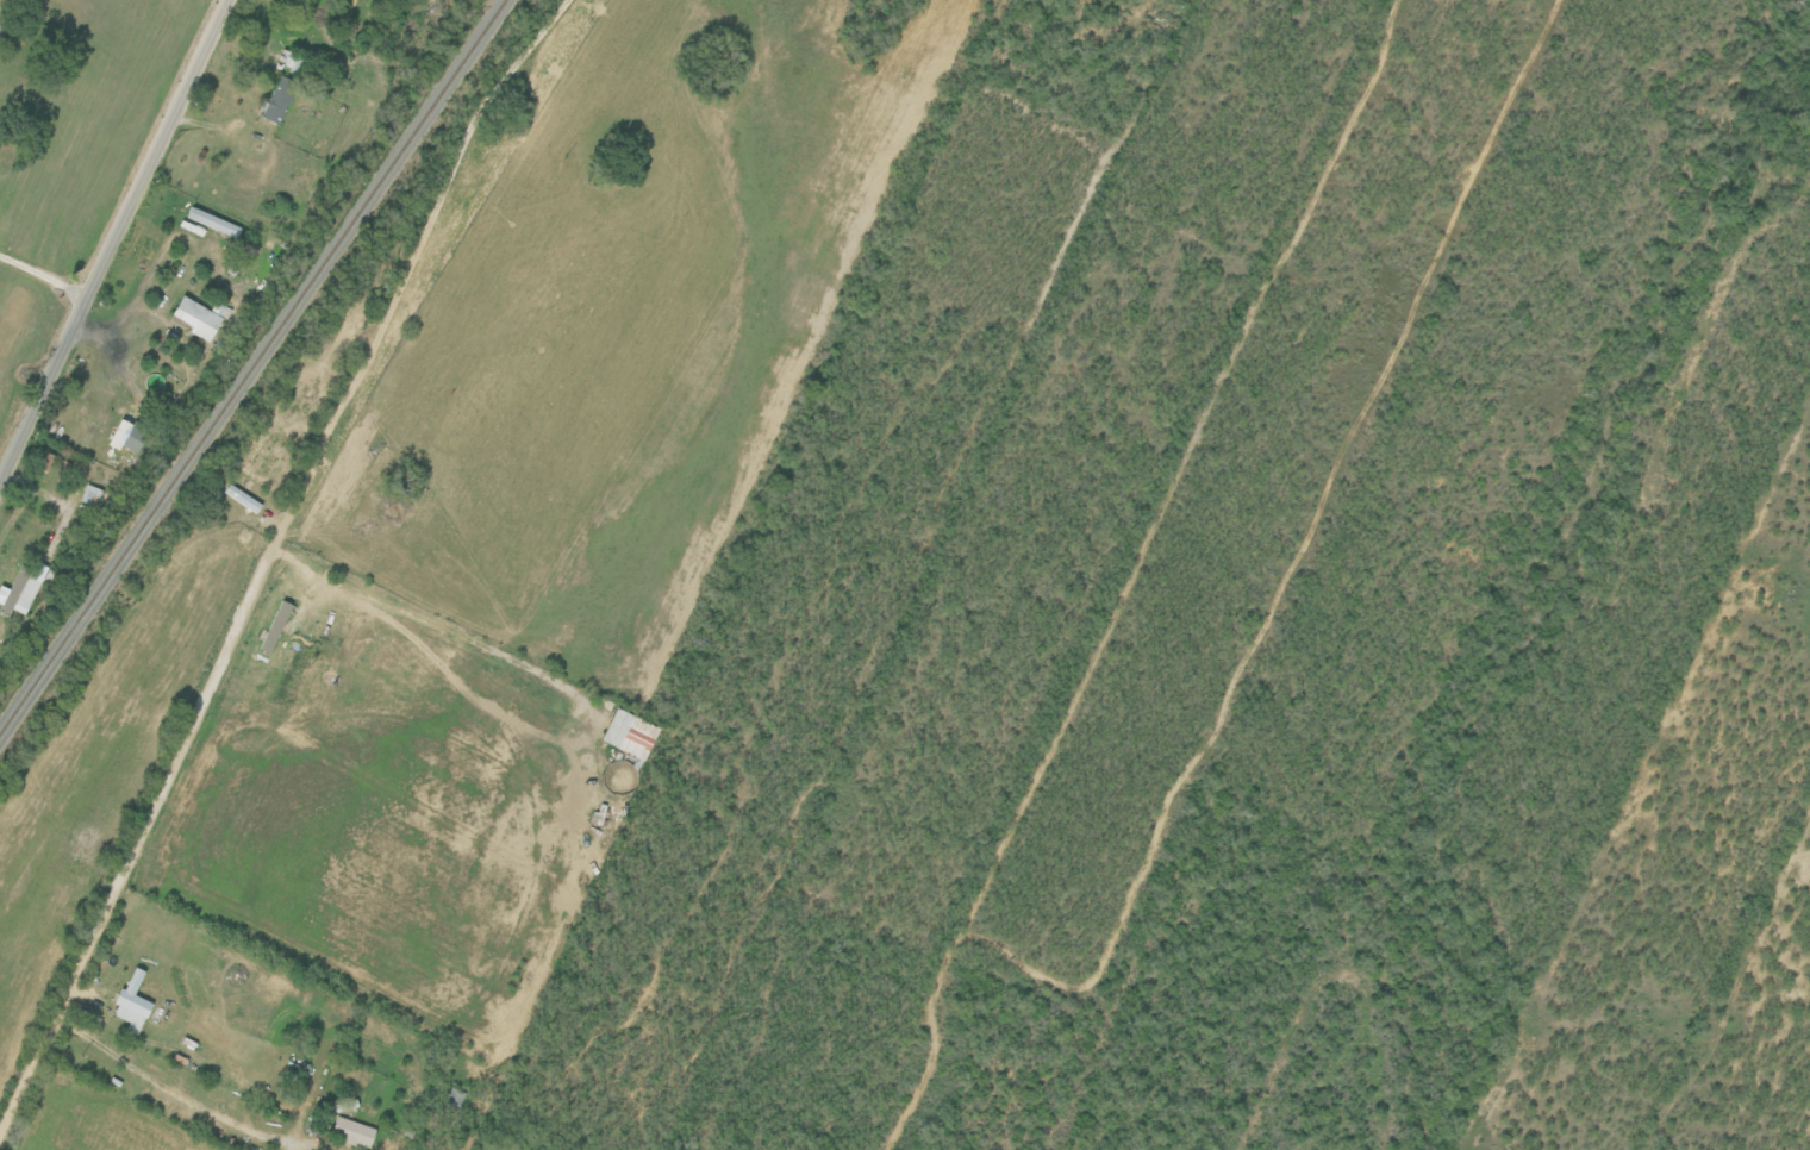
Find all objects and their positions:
building: (276, 100)
building: (211, 221)
road: (114, 243)
road: (44, 275)
building: (198, 318)
railway: (252, 367)
building: (123, 436)
building: (241, 498)
road: (293, 507)
building: (20, 589)
road: (525, 723)
building: (628, 735)
building: (130, 1001)
road: (24, 1086)
road: (154, 1086)
building: (454, 1096)
building: (350, 1132)

